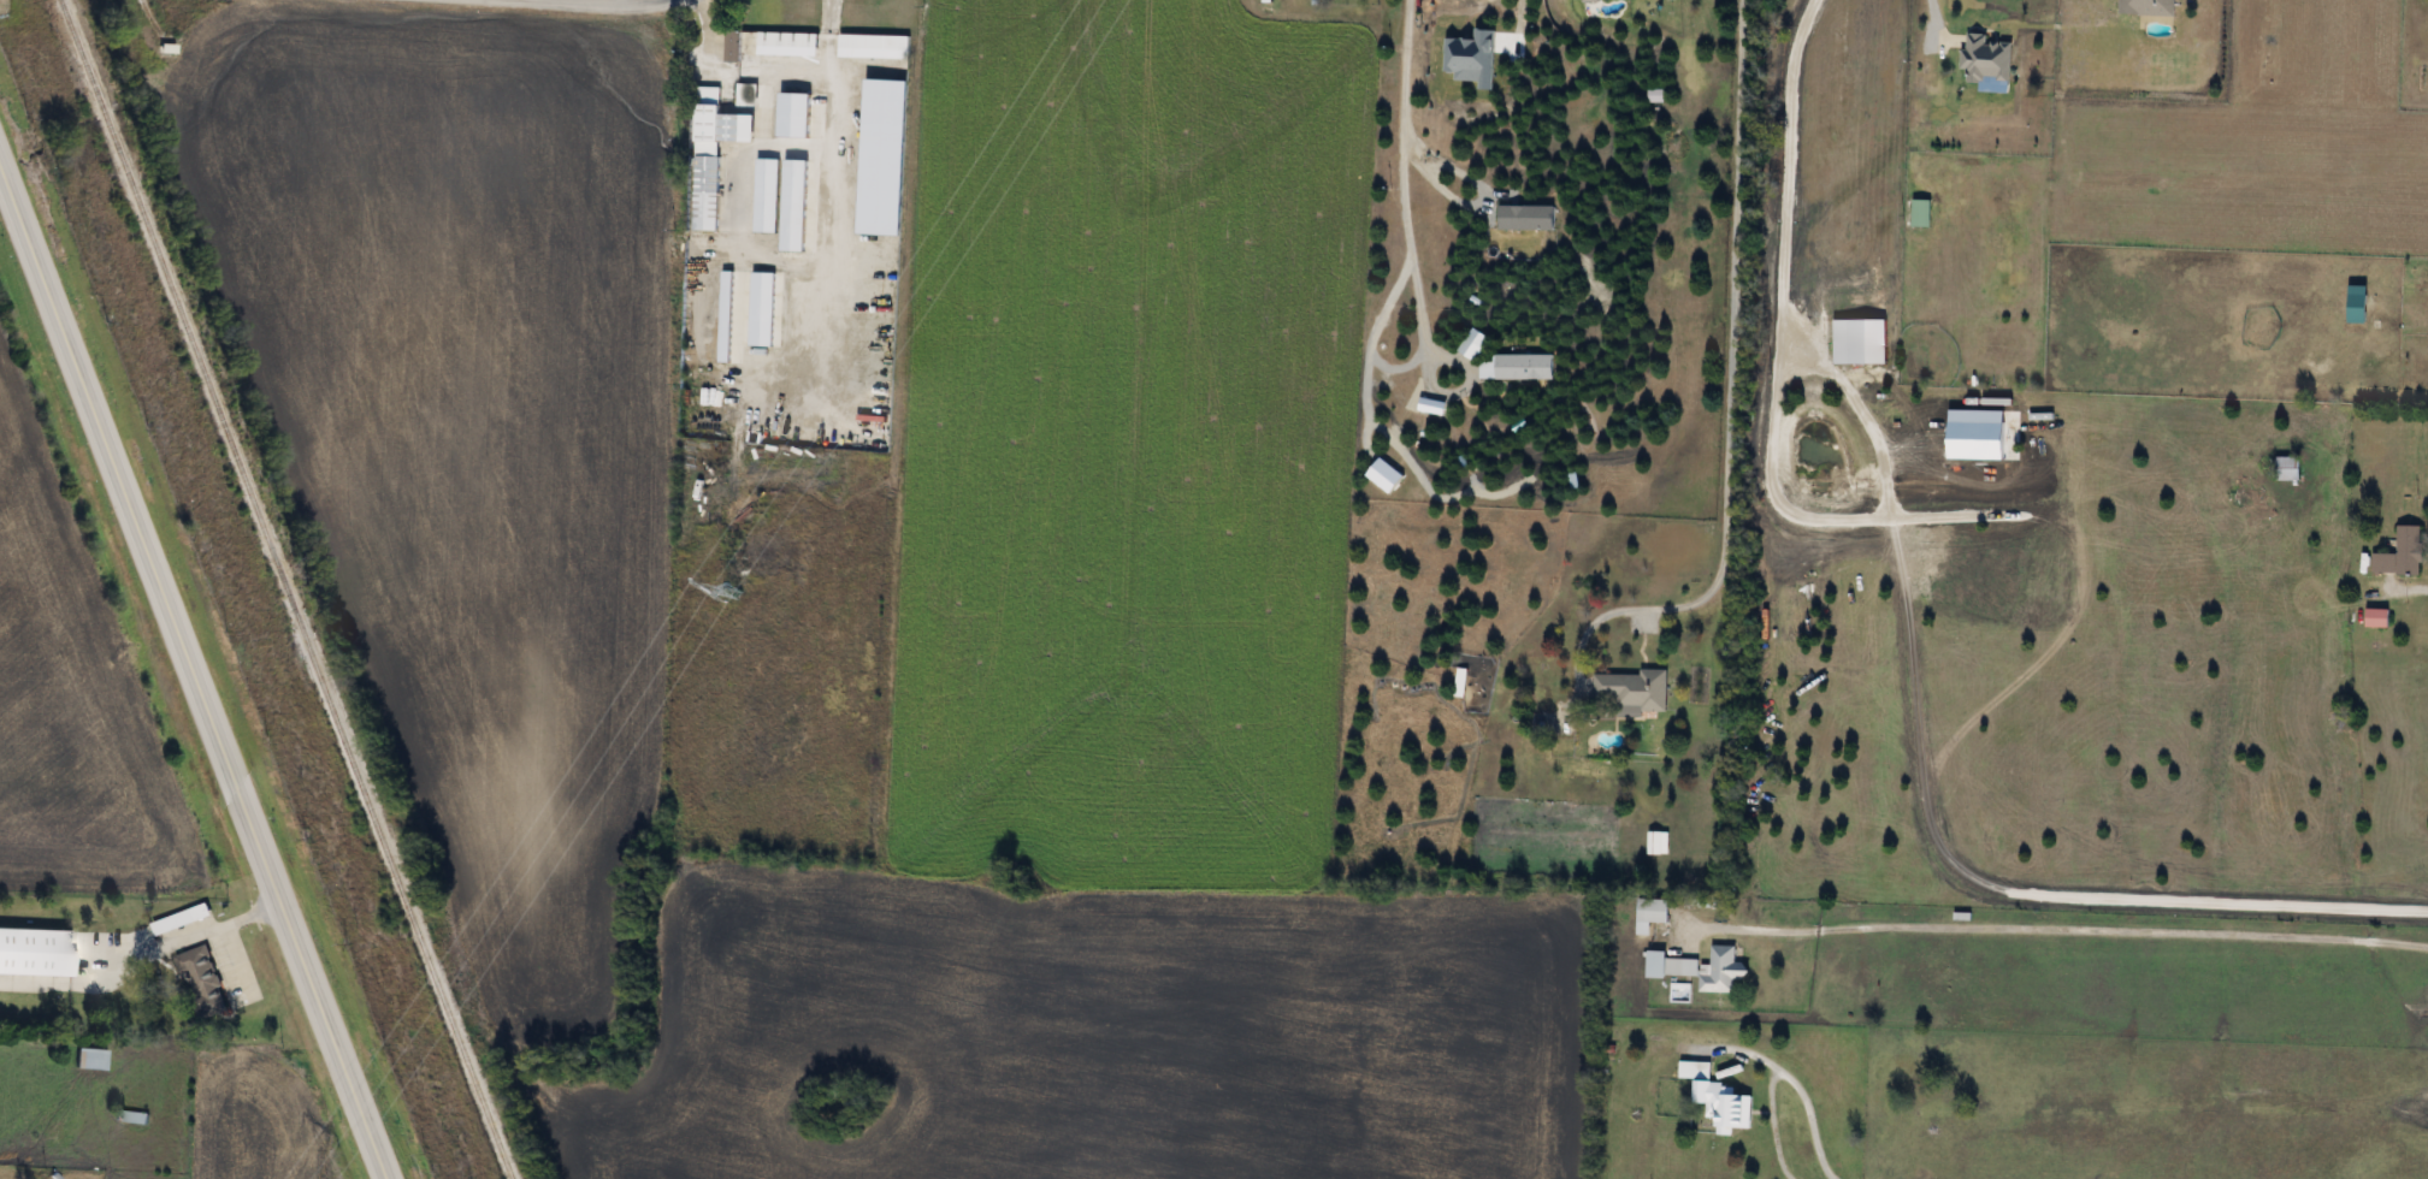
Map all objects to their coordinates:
road: (544, 0)
road: (595, 4)
building: (2146, 7)
road: (1932, 13)
building: (781, 40)
building: (873, 42)
building: (731, 46)
building: (1985, 59)
road: (788, 71)
building: (716, 148)
road: (1449, 156)
road: (1782, 156)
road: (1398, 177)
building: (1920, 213)
building: (2357, 303)
building: (1914, 362)
road: (1725, 389)
building: (2286, 467)
building: (2400, 553)
road: (2415, 587)
railway: (285, 589)
power tower: (733, 589)
building: (2376, 617)
road: (194, 668)
building: (1632, 689)
road: (2405, 778)
building: (1652, 912)
road: (2060, 931)
building: (34, 950)
road: (142, 956)
building: (1700, 967)
building: (200, 982)
building: (89, 1057)
road: (1782, 1072)
building: (1723, 1104)
building: (132, 1116)

